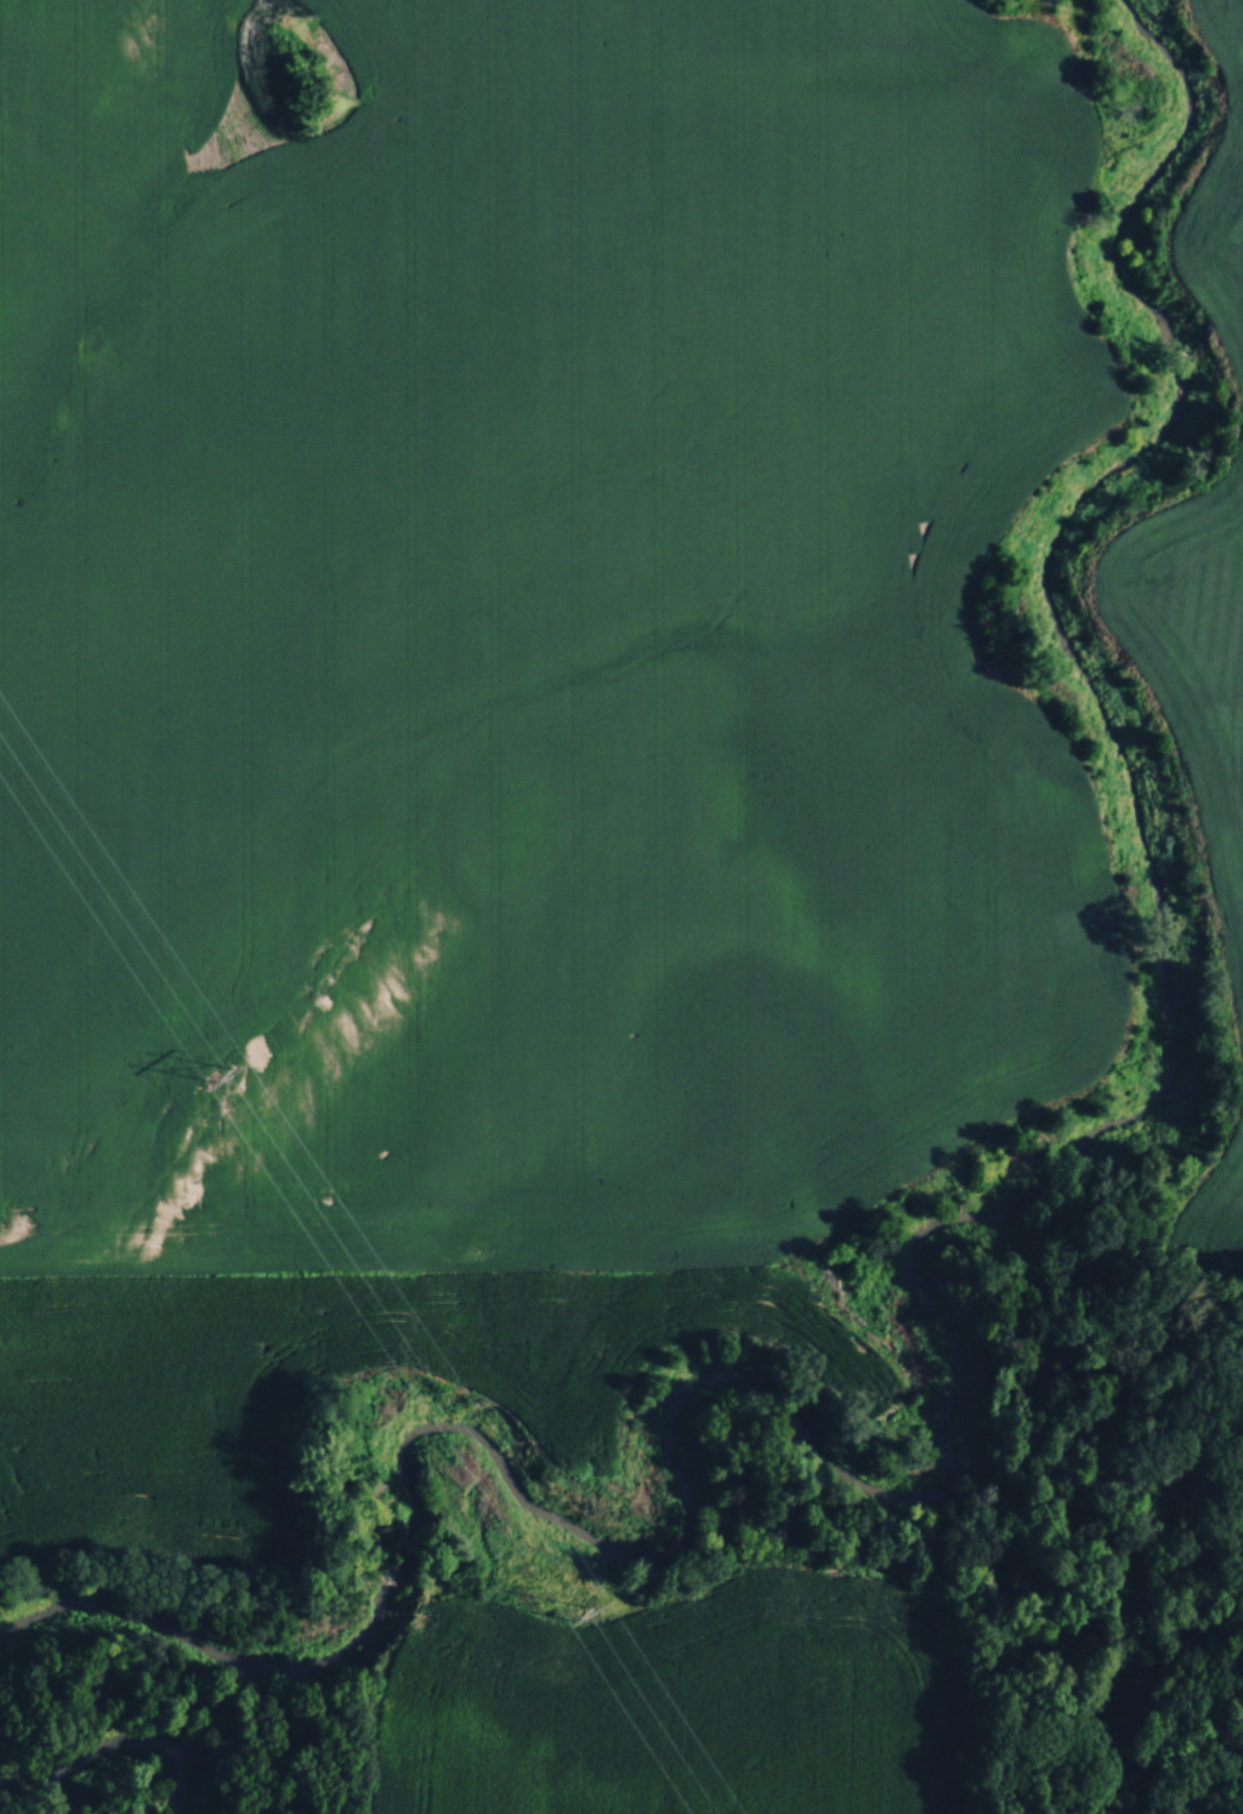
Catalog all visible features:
power tower: (222, 1075)
power tower: (574, 1605)

